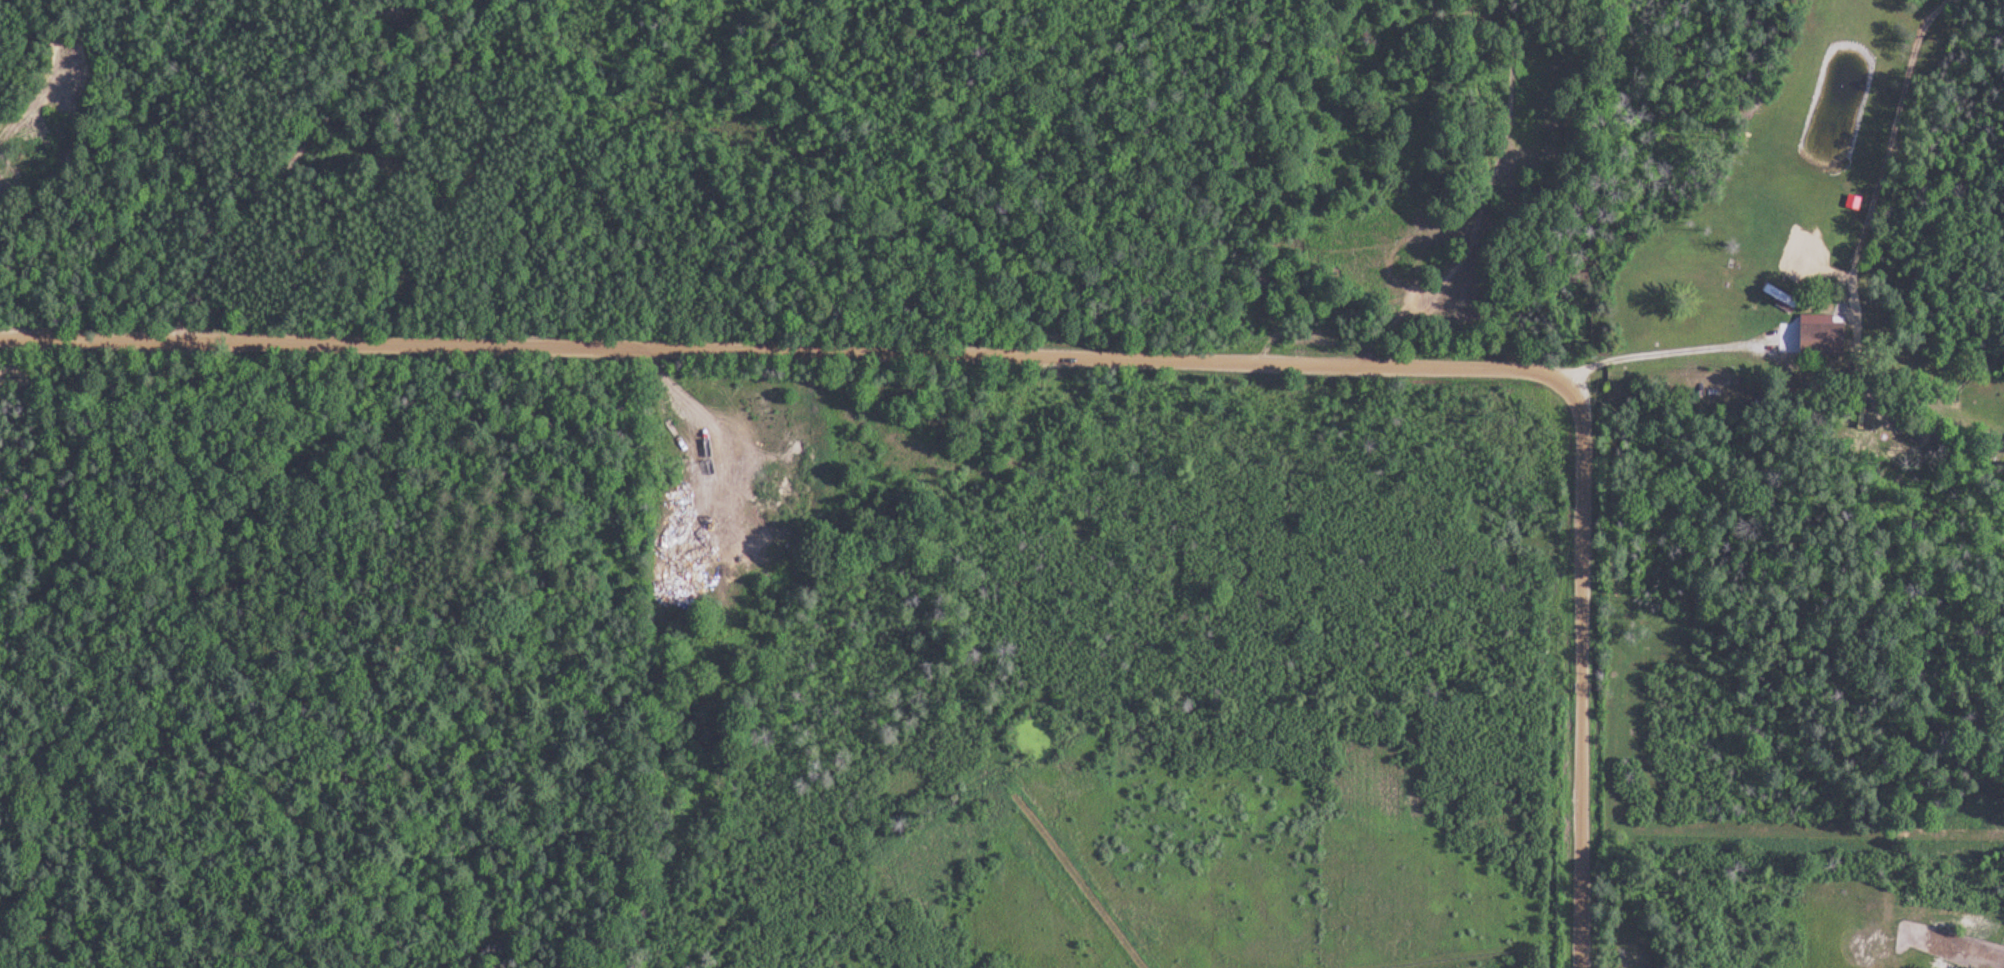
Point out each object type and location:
road: (296, 159)
road: (1566, 190)
building: (1828, 339)
road: (1673, 353)
road: (785, 359)
road: (1583, 671)

